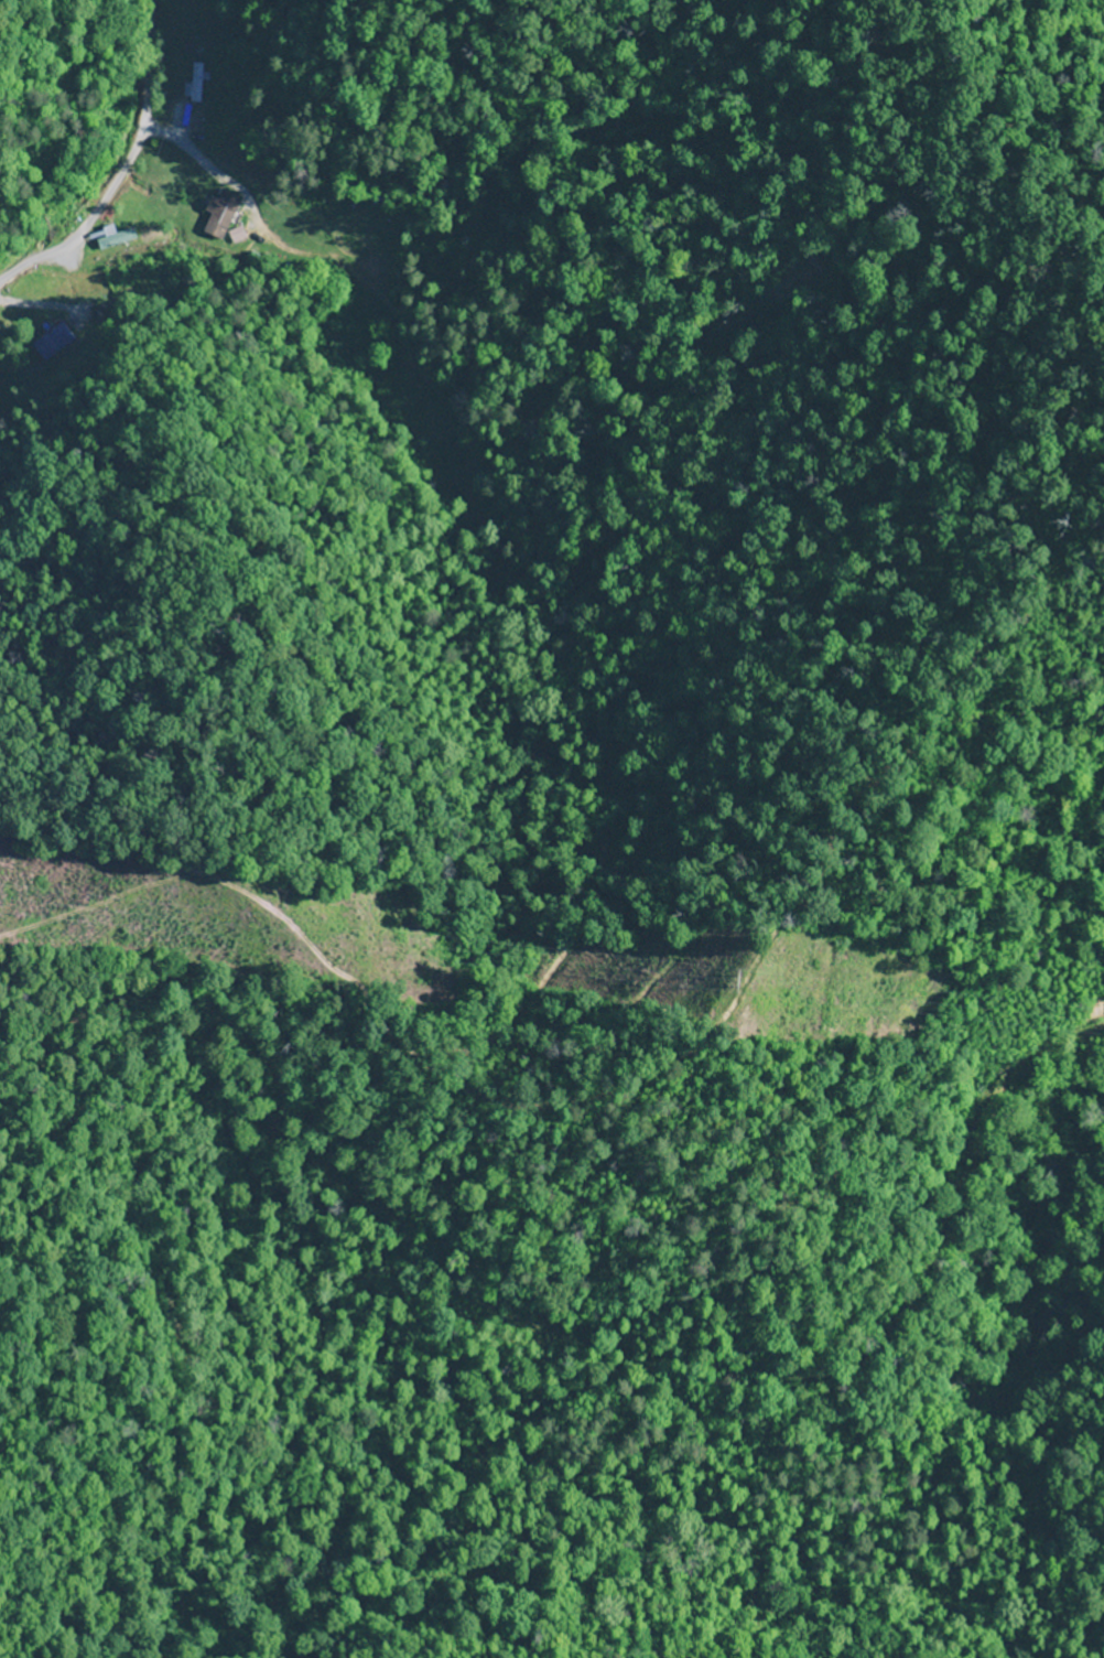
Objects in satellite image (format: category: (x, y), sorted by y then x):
building: (195, 83)
road: (128, 170)
building: (219, 214)
building: (113, 238)
building: (51, 342)

